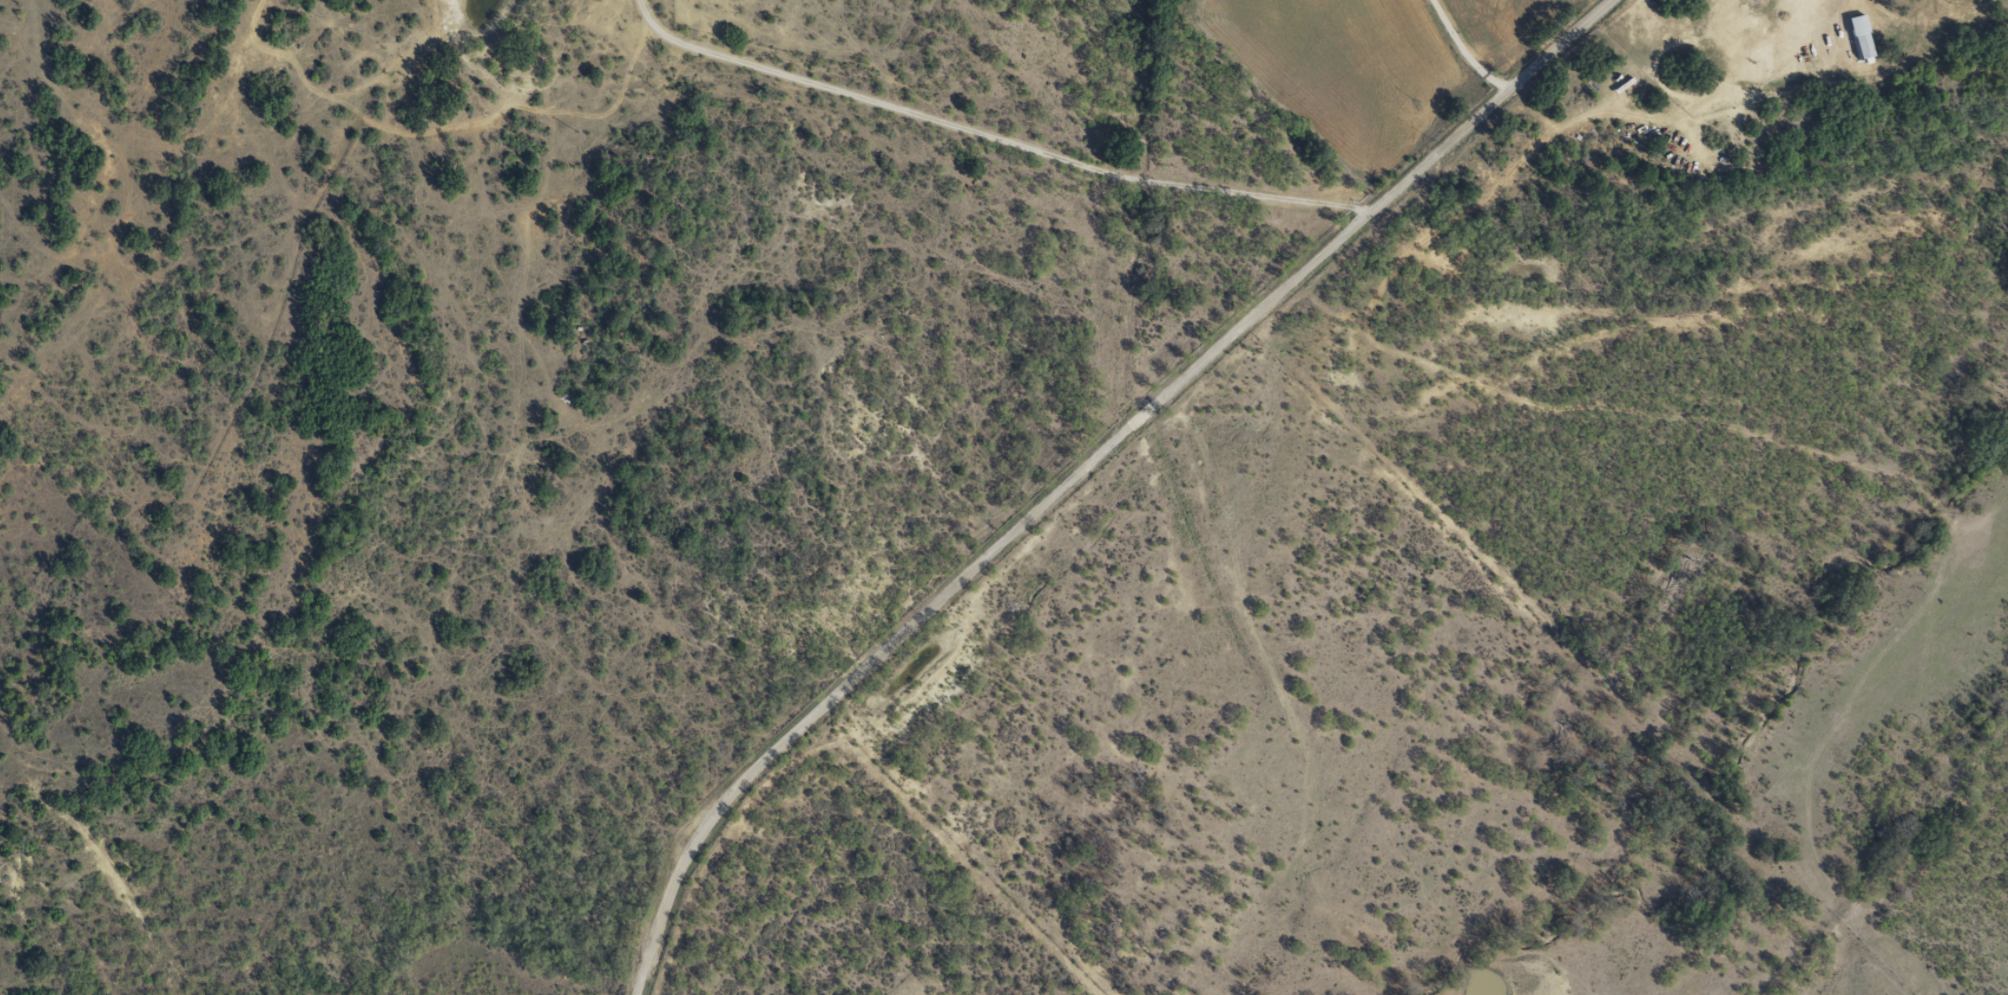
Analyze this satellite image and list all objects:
building: (1860, 36)
road: (988, 136)
road: (1055, 463)
railway: (1895, 857)

